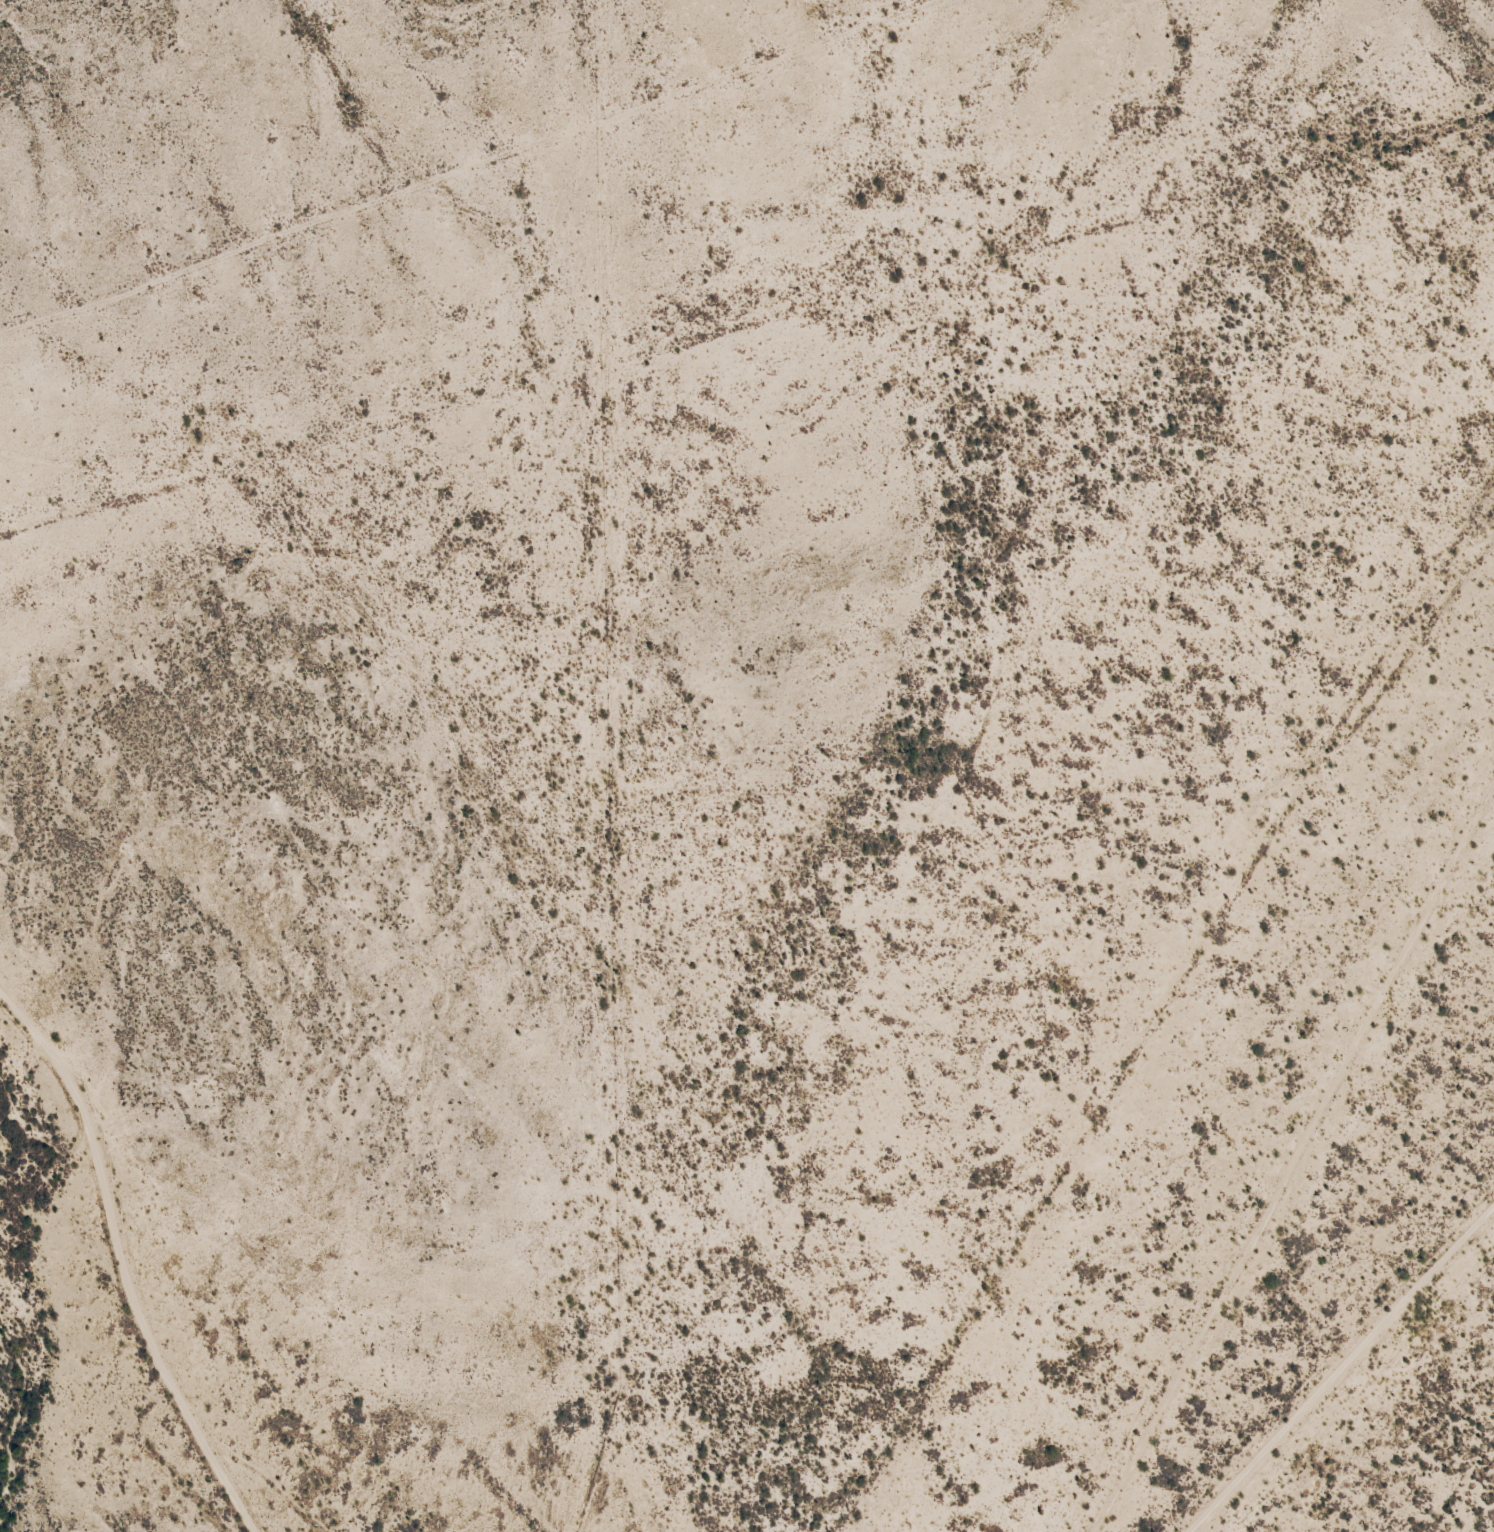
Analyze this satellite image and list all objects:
road: (473, 162)
road: (1292, 1137)
road: (149, 1226)
road: (1349, 1372)

